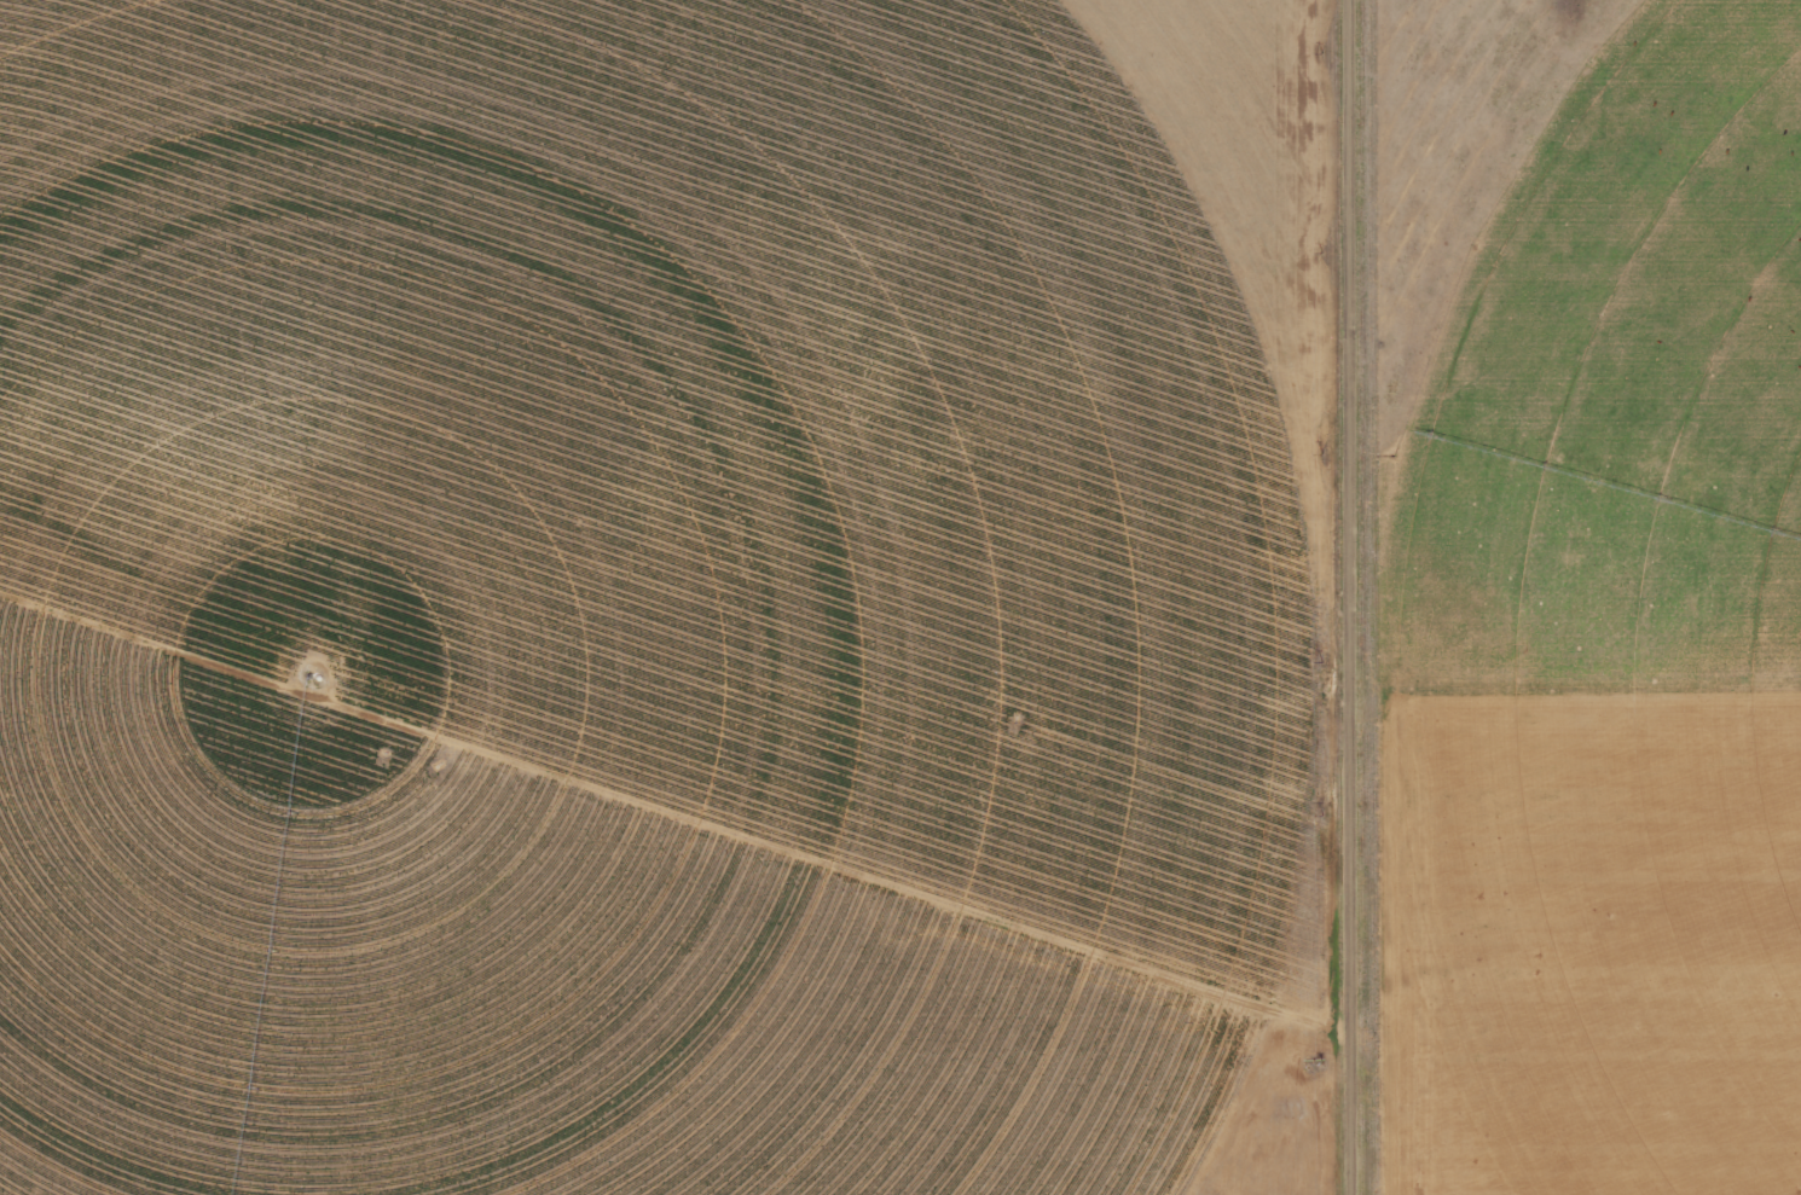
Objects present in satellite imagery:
road: (1343, 597)

